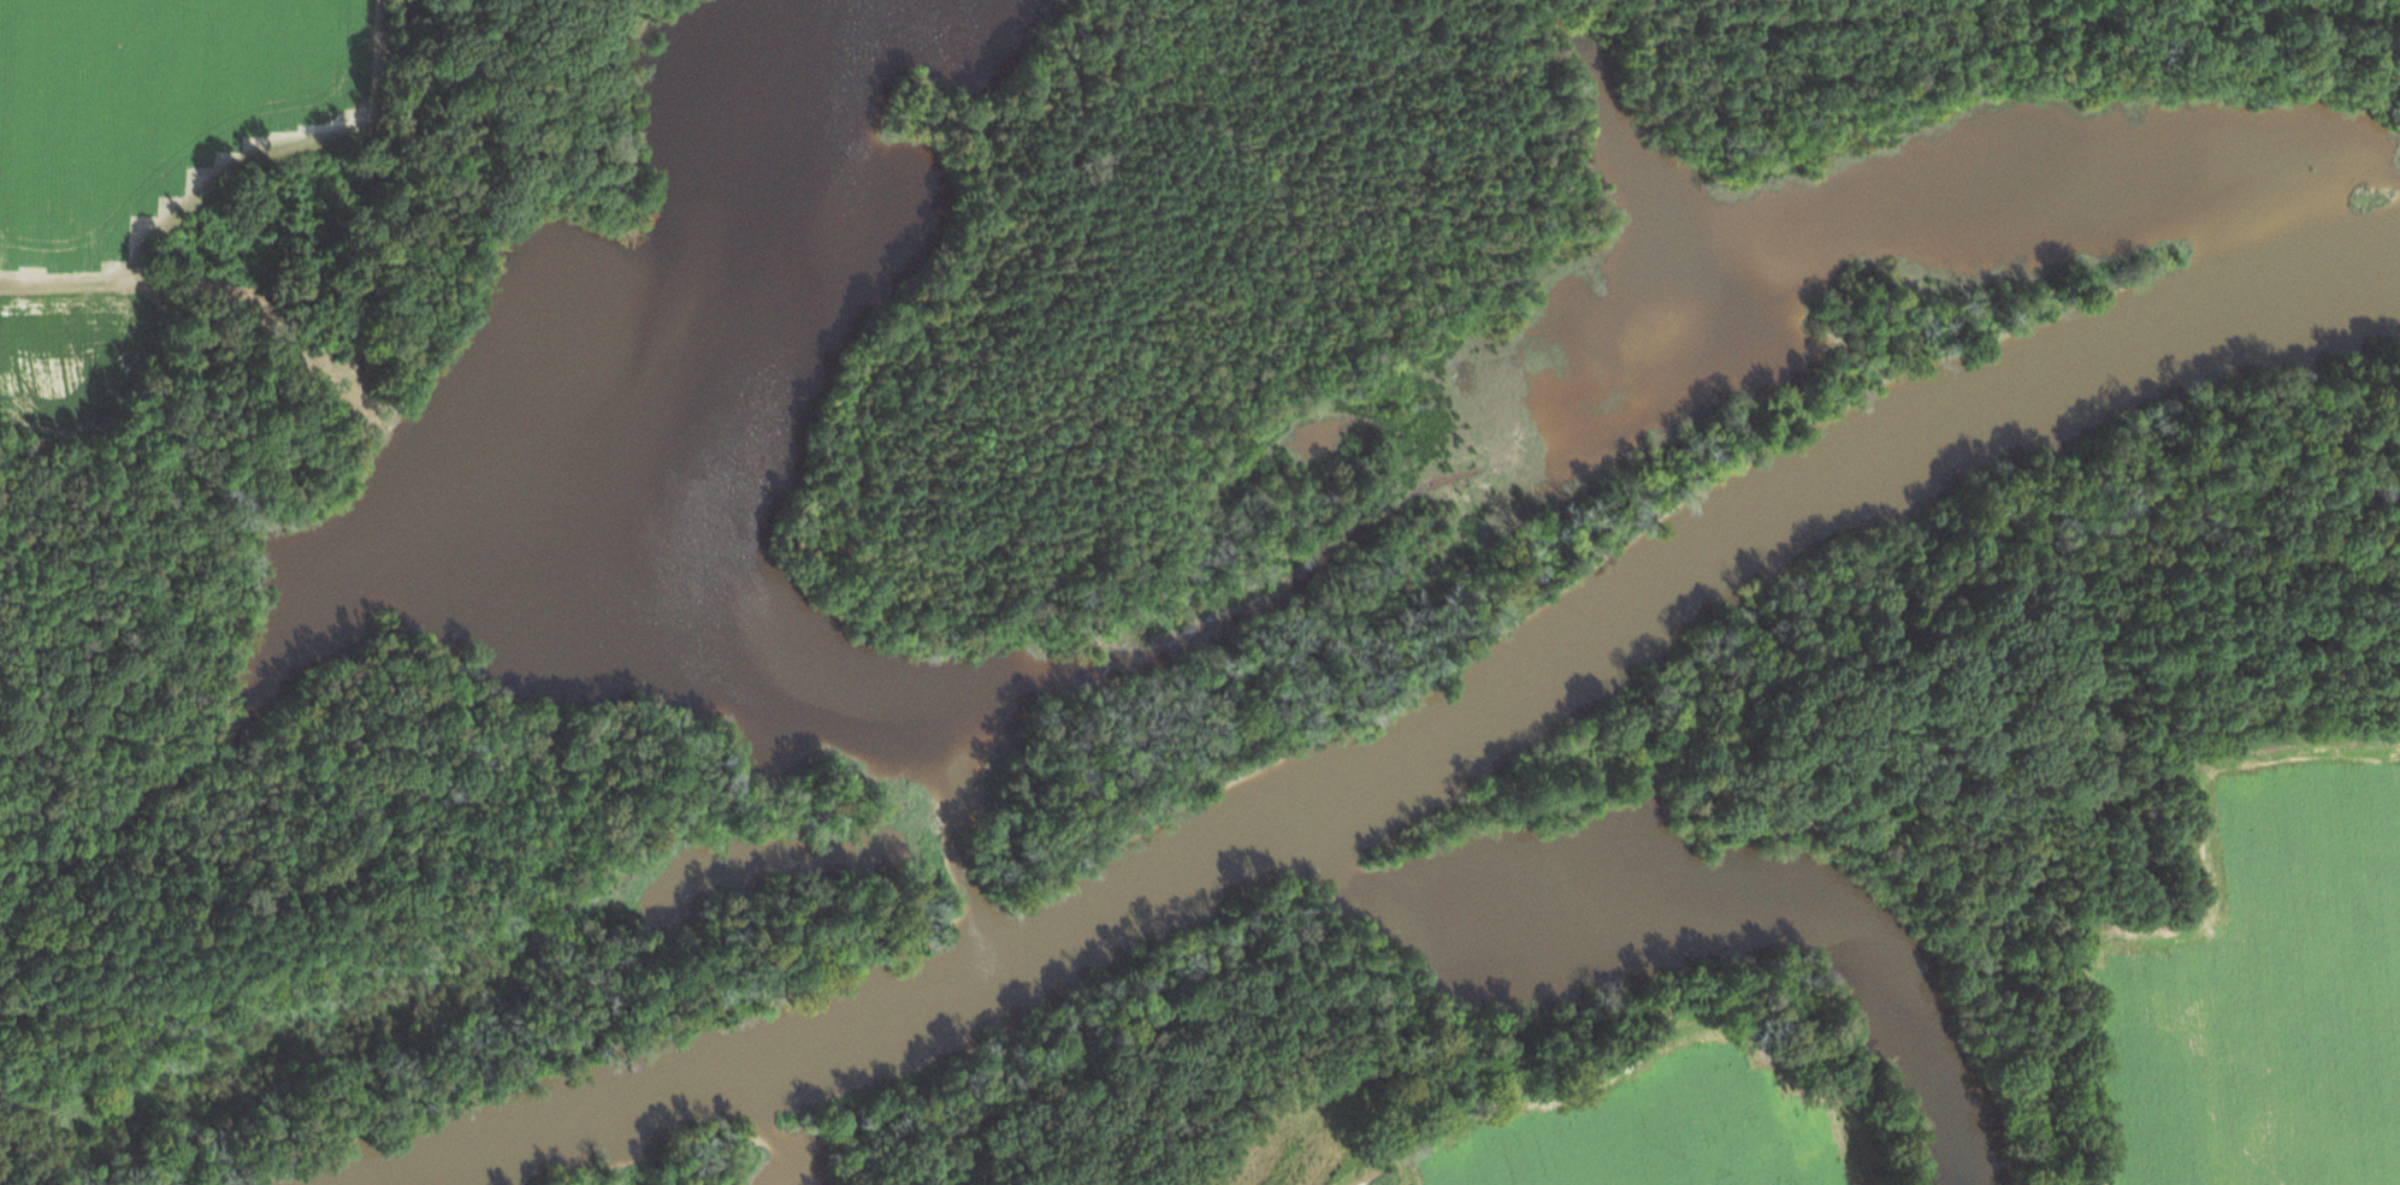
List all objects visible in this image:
river: (2173, 332)
river: (1609, 623)
river: (1142, 897)
river: (869, 1019)
river: (566, 1133)

